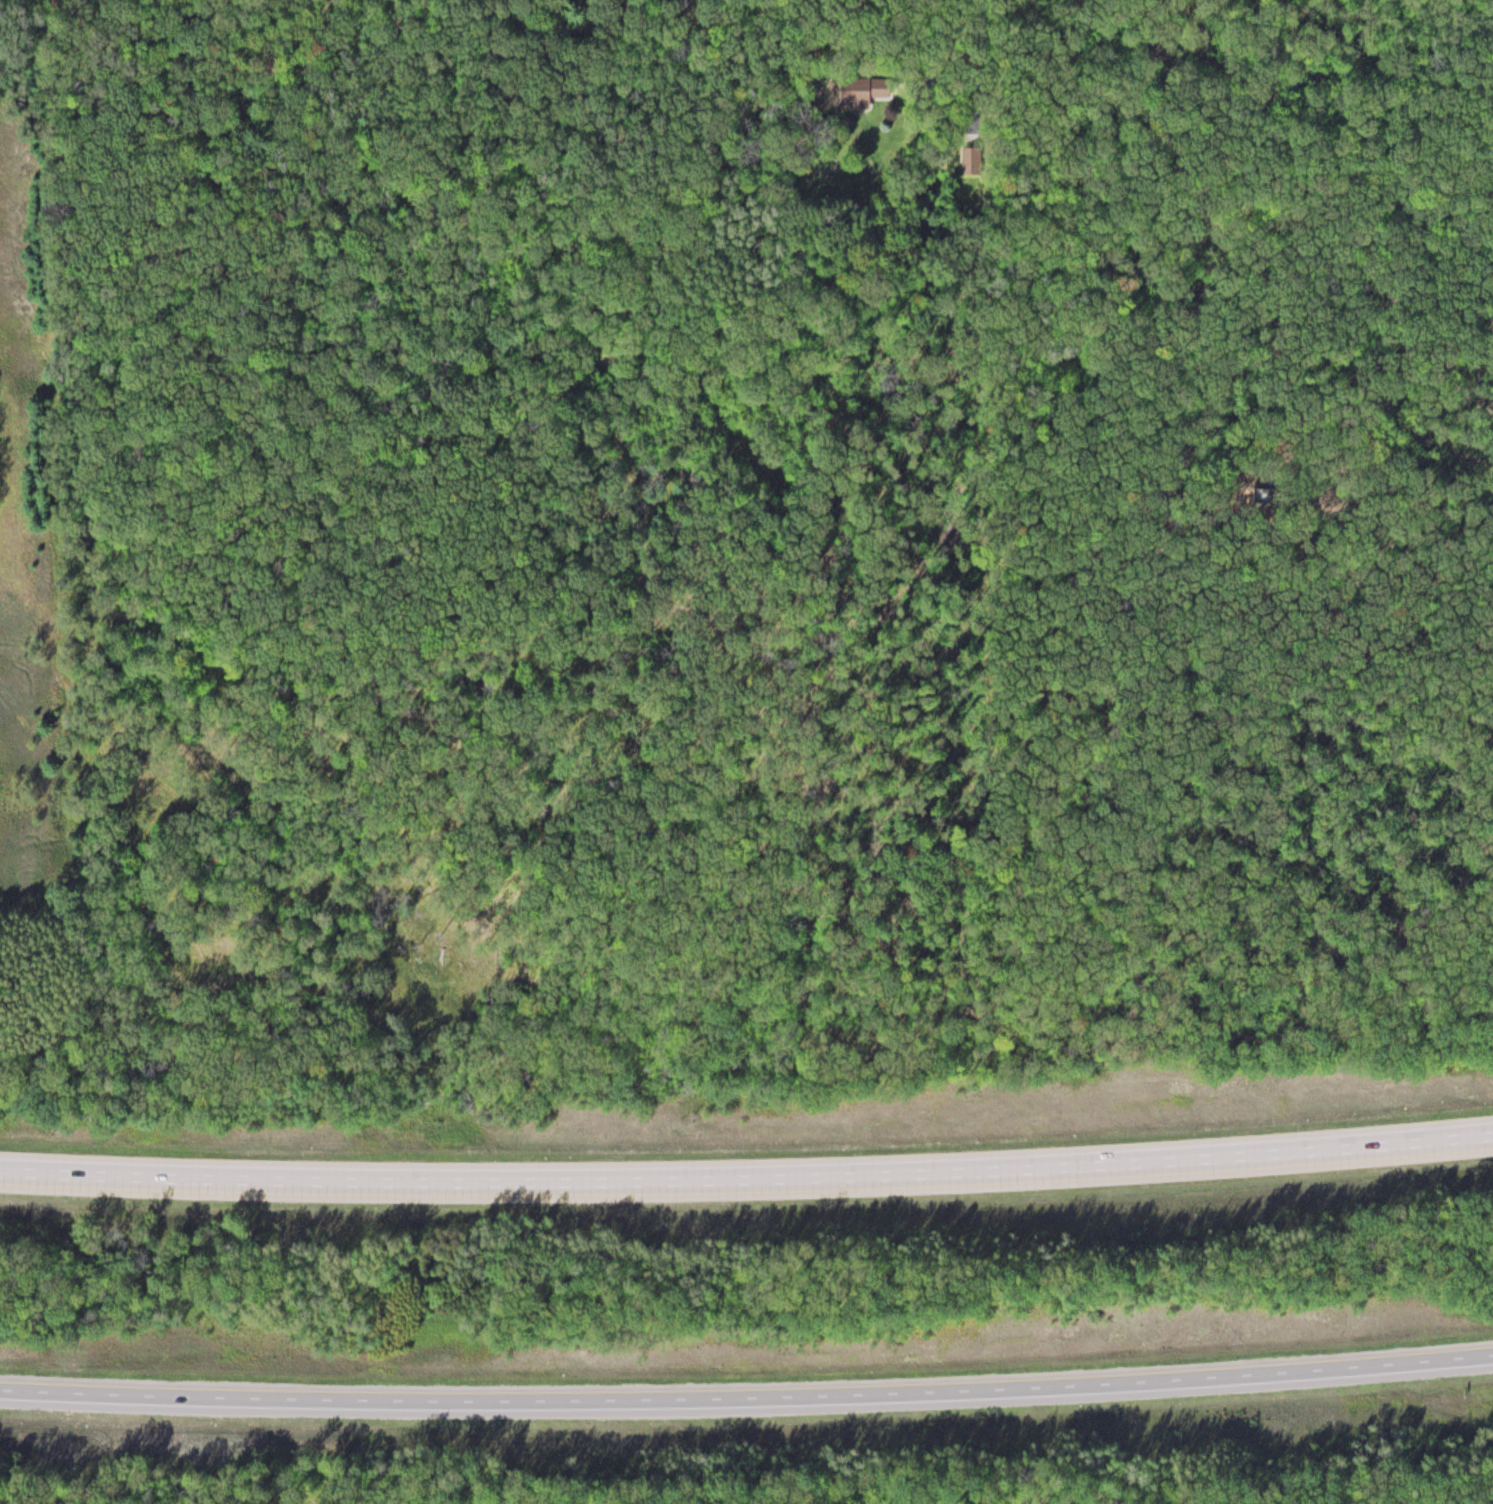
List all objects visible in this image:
road: (346, 59)
road: (747, 1177)
road: (747, 1393)

